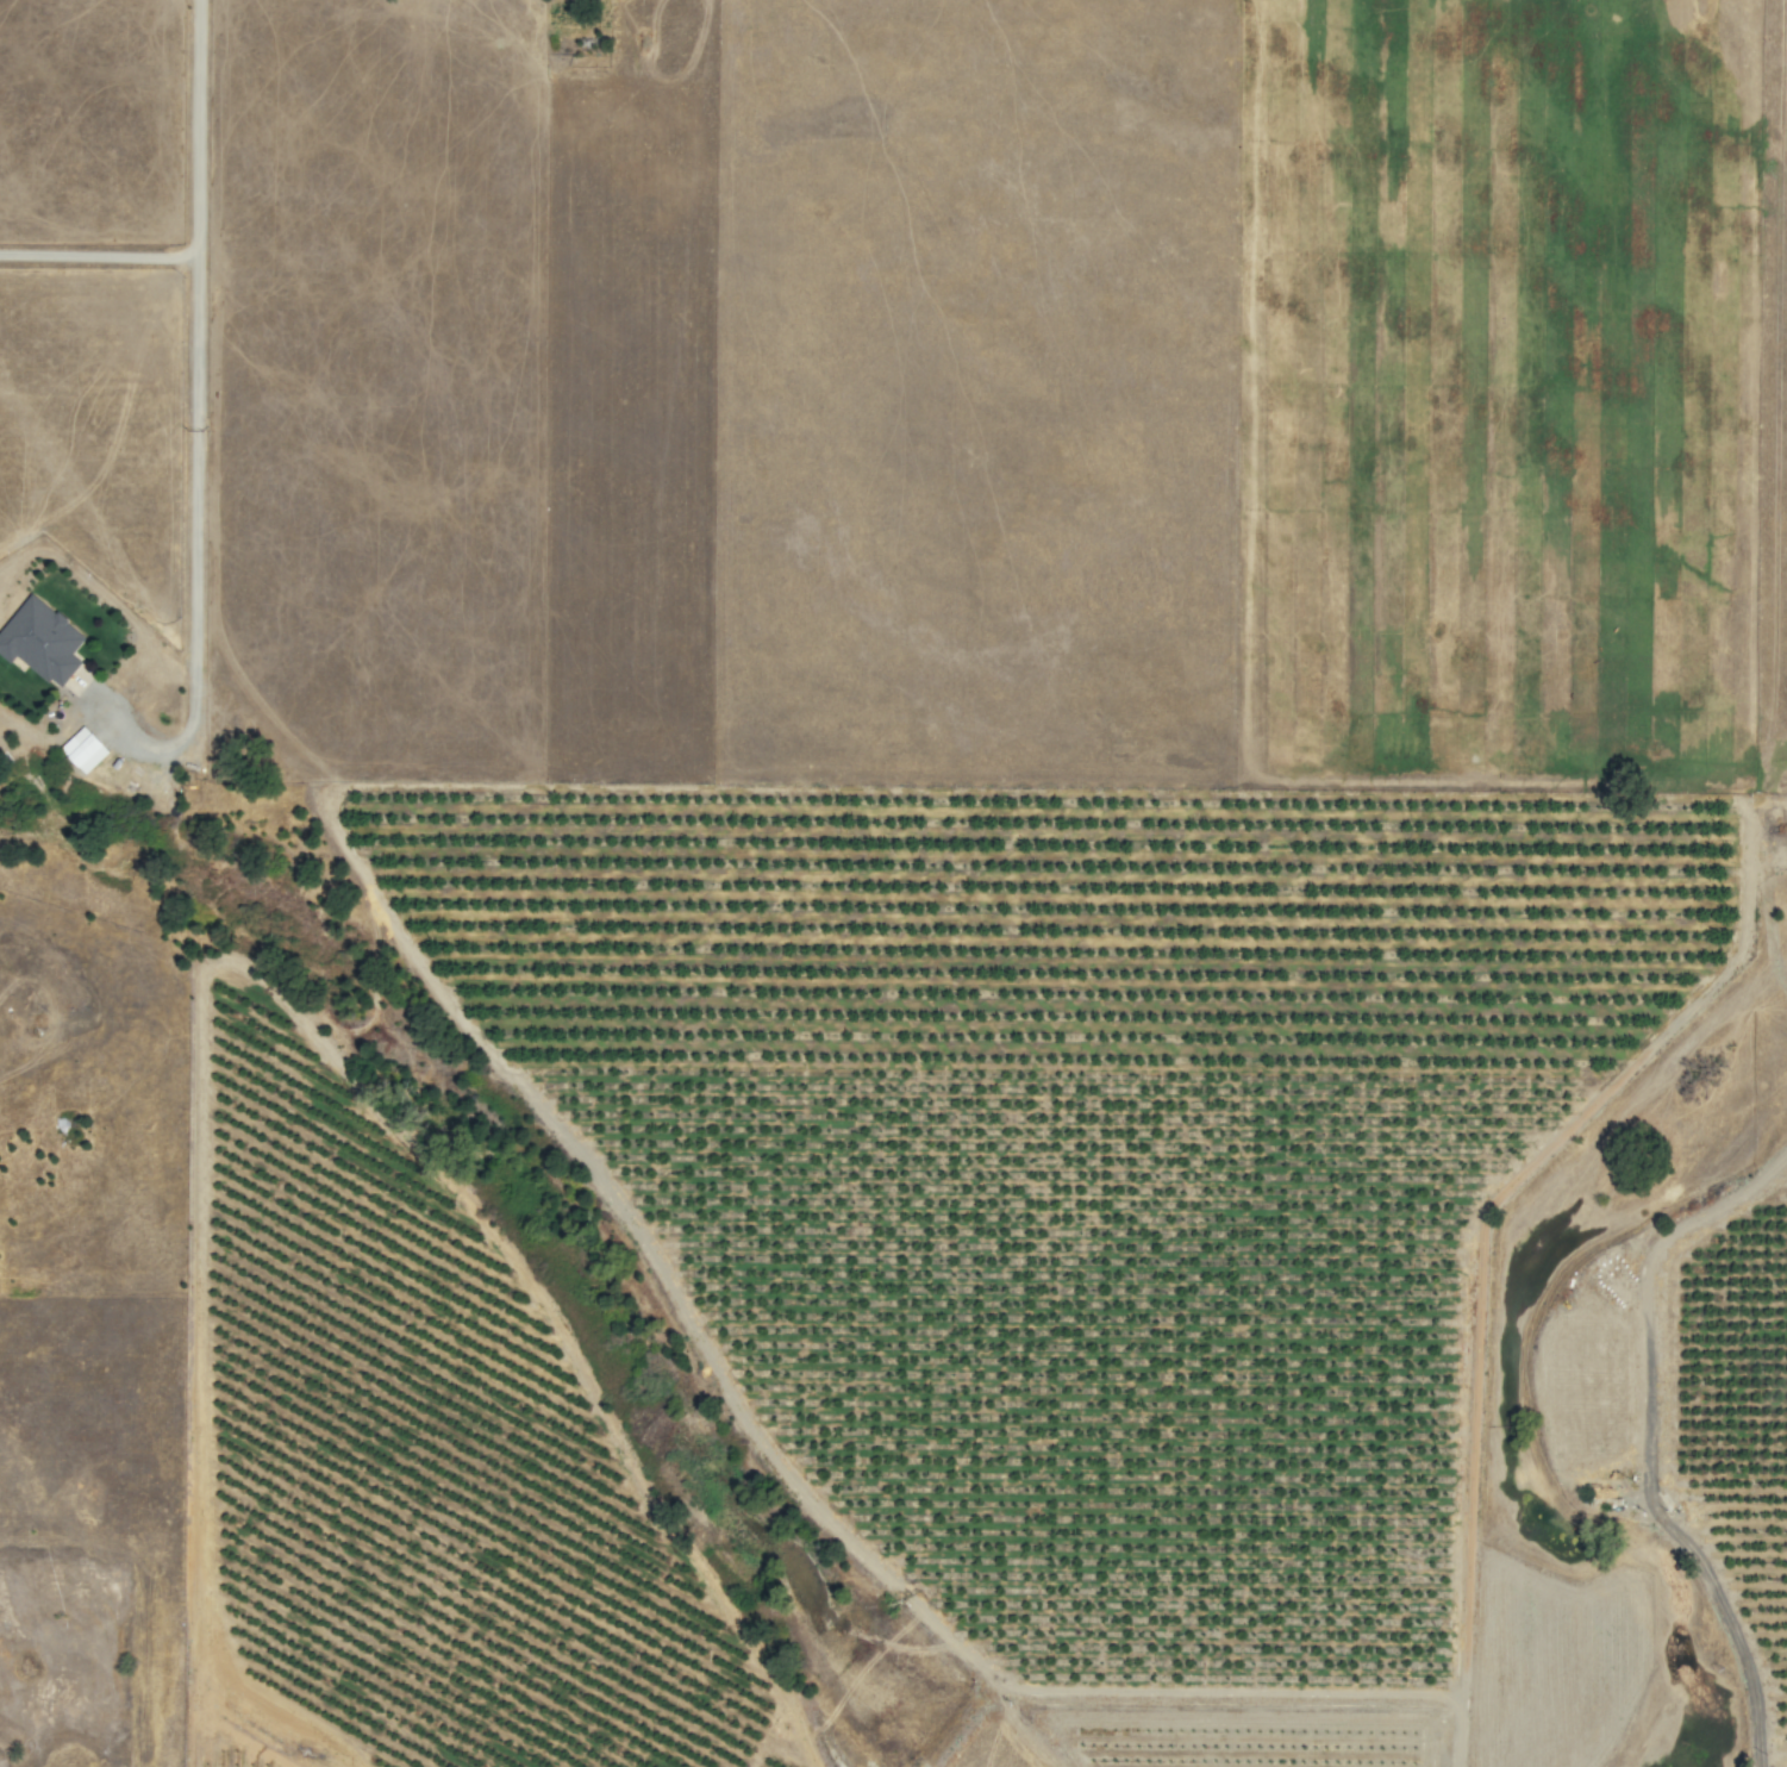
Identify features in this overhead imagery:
road: (99, 255)
road: (196, 371)
crop: (1495, 394)
building: (37, 641)
building: (77, 749)
road: (1555, 1434)

